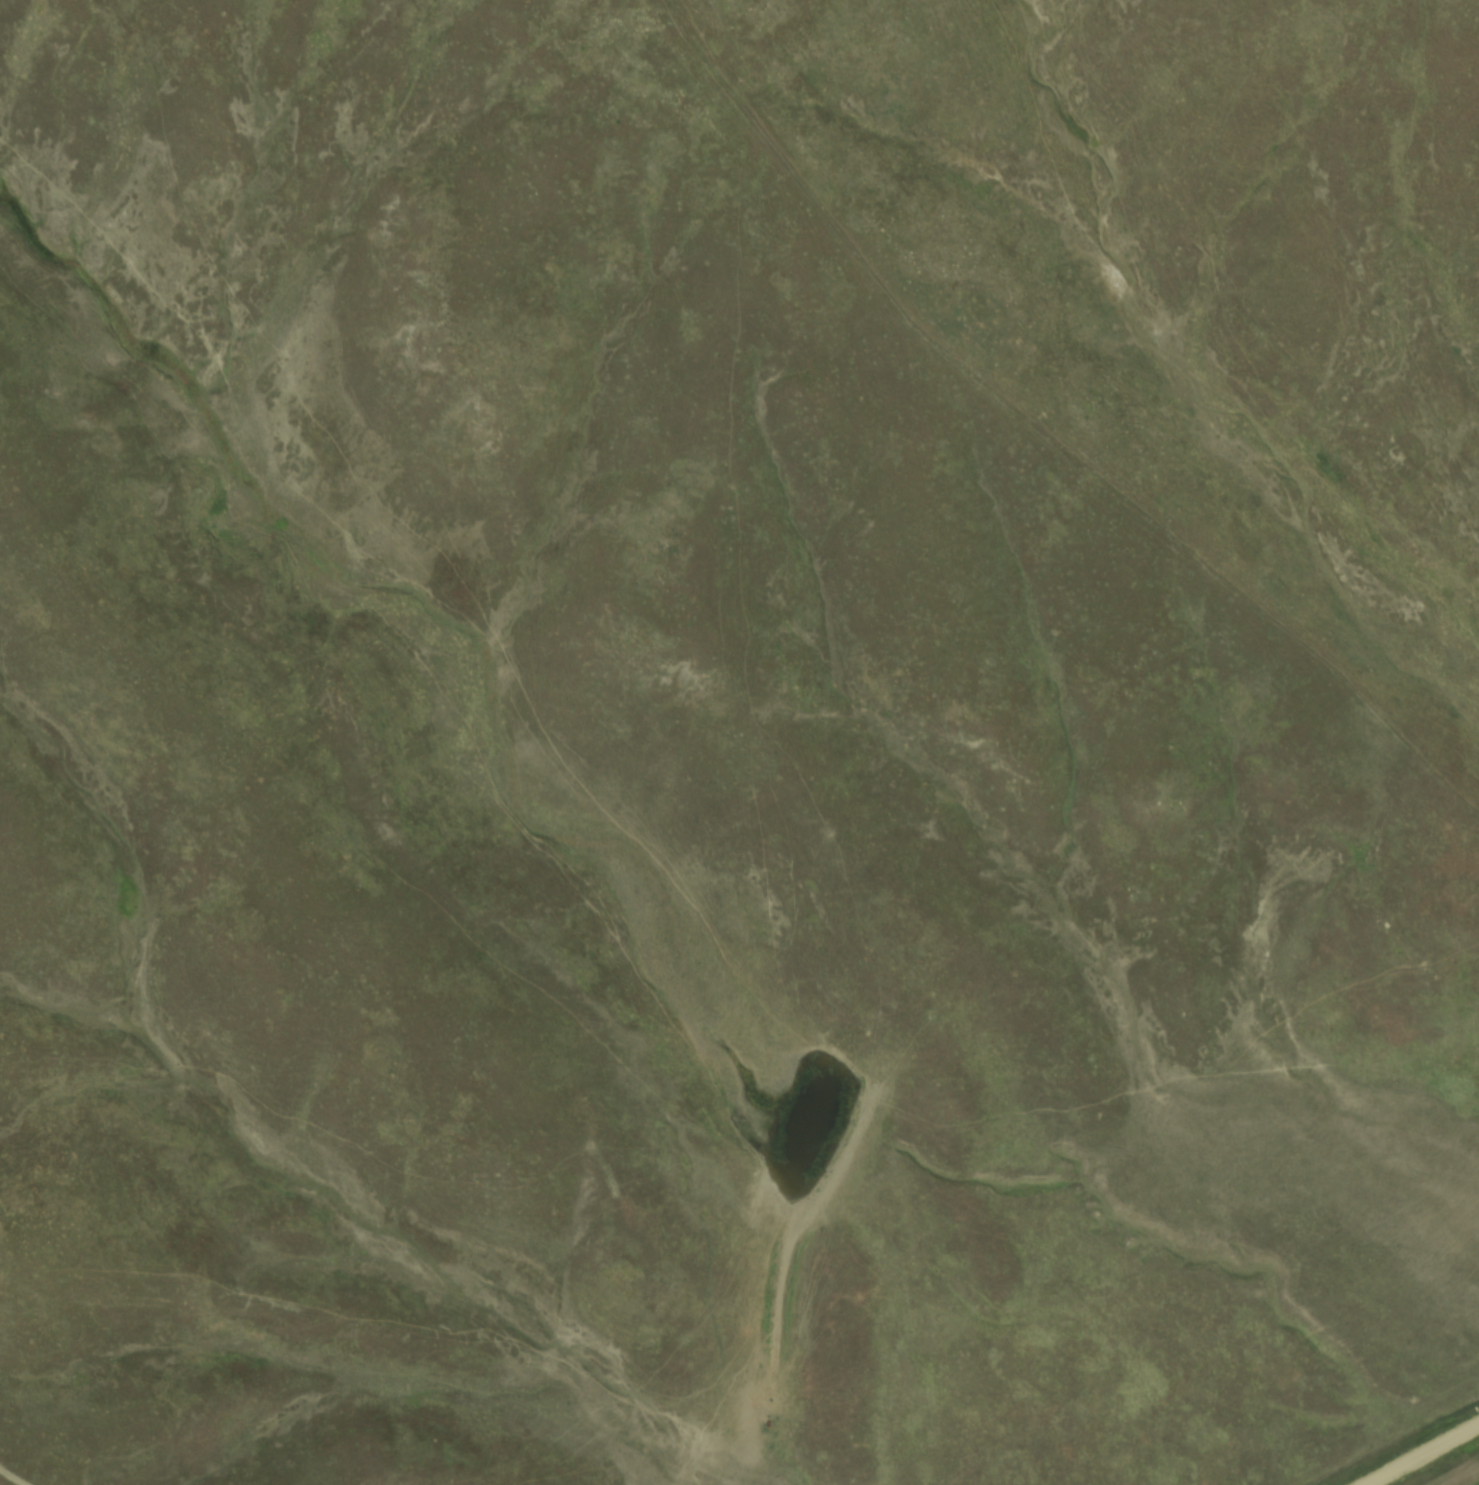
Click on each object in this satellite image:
road: (1424, 1455)

